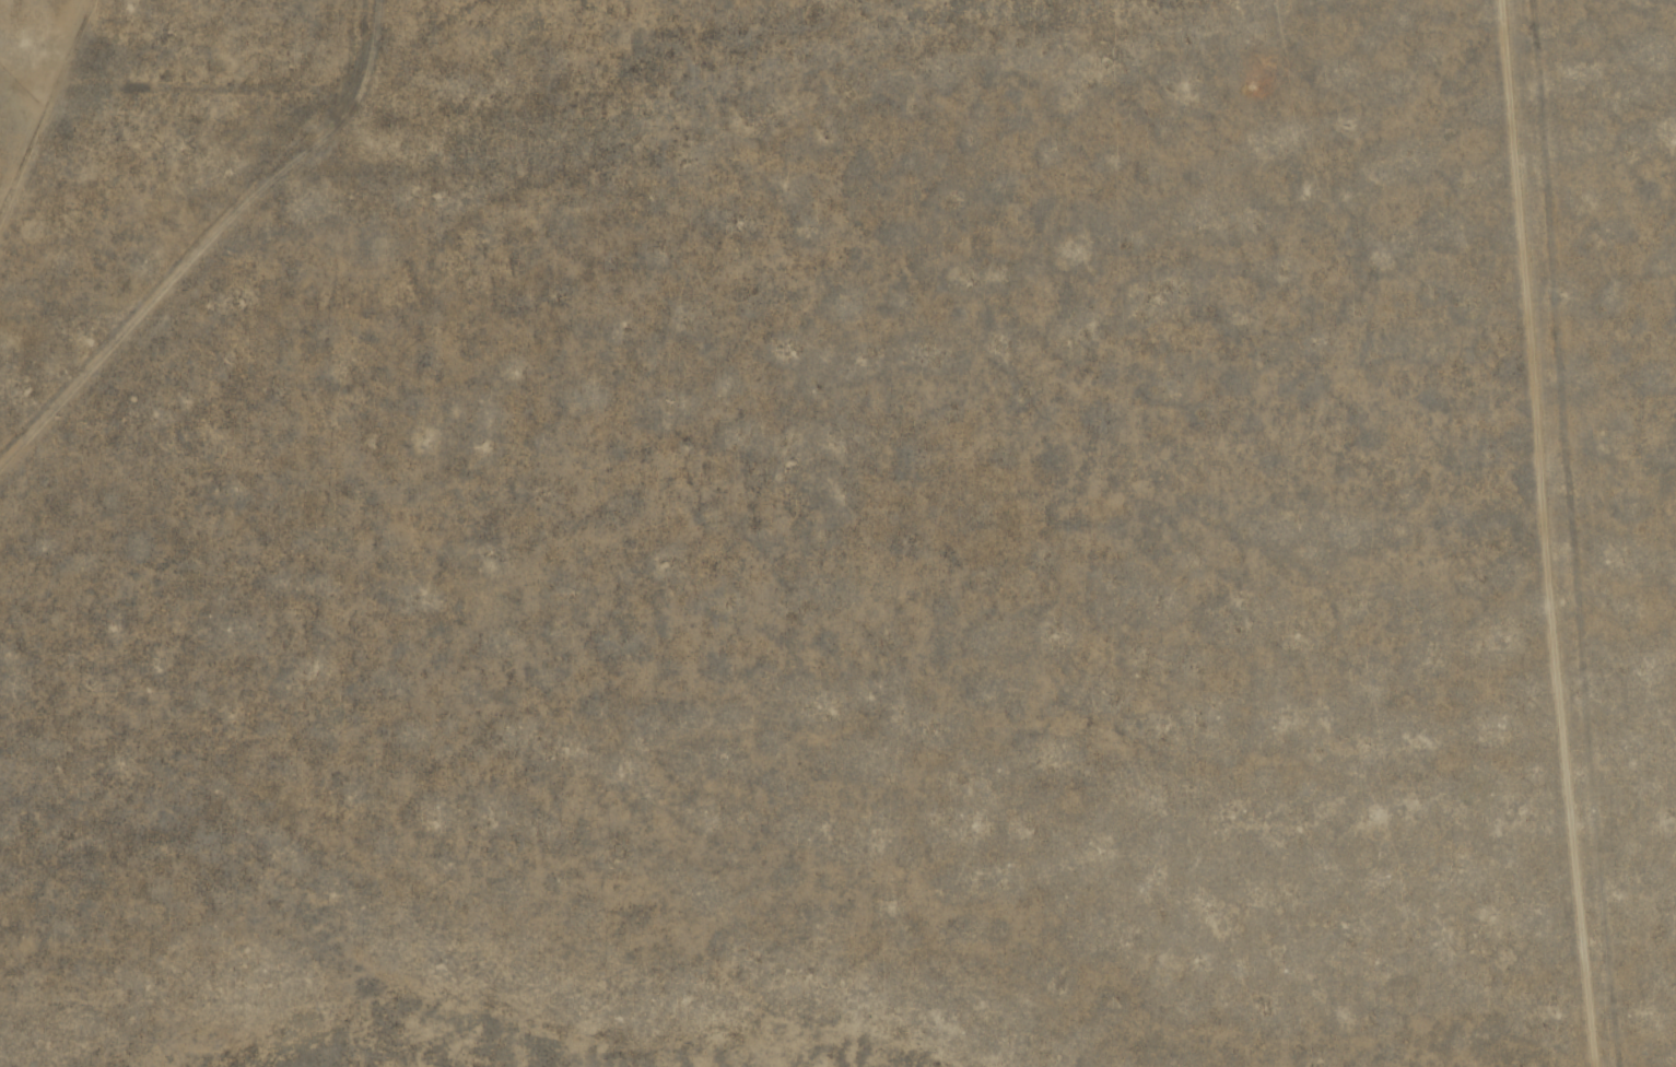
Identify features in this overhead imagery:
road: (1538, 533)

